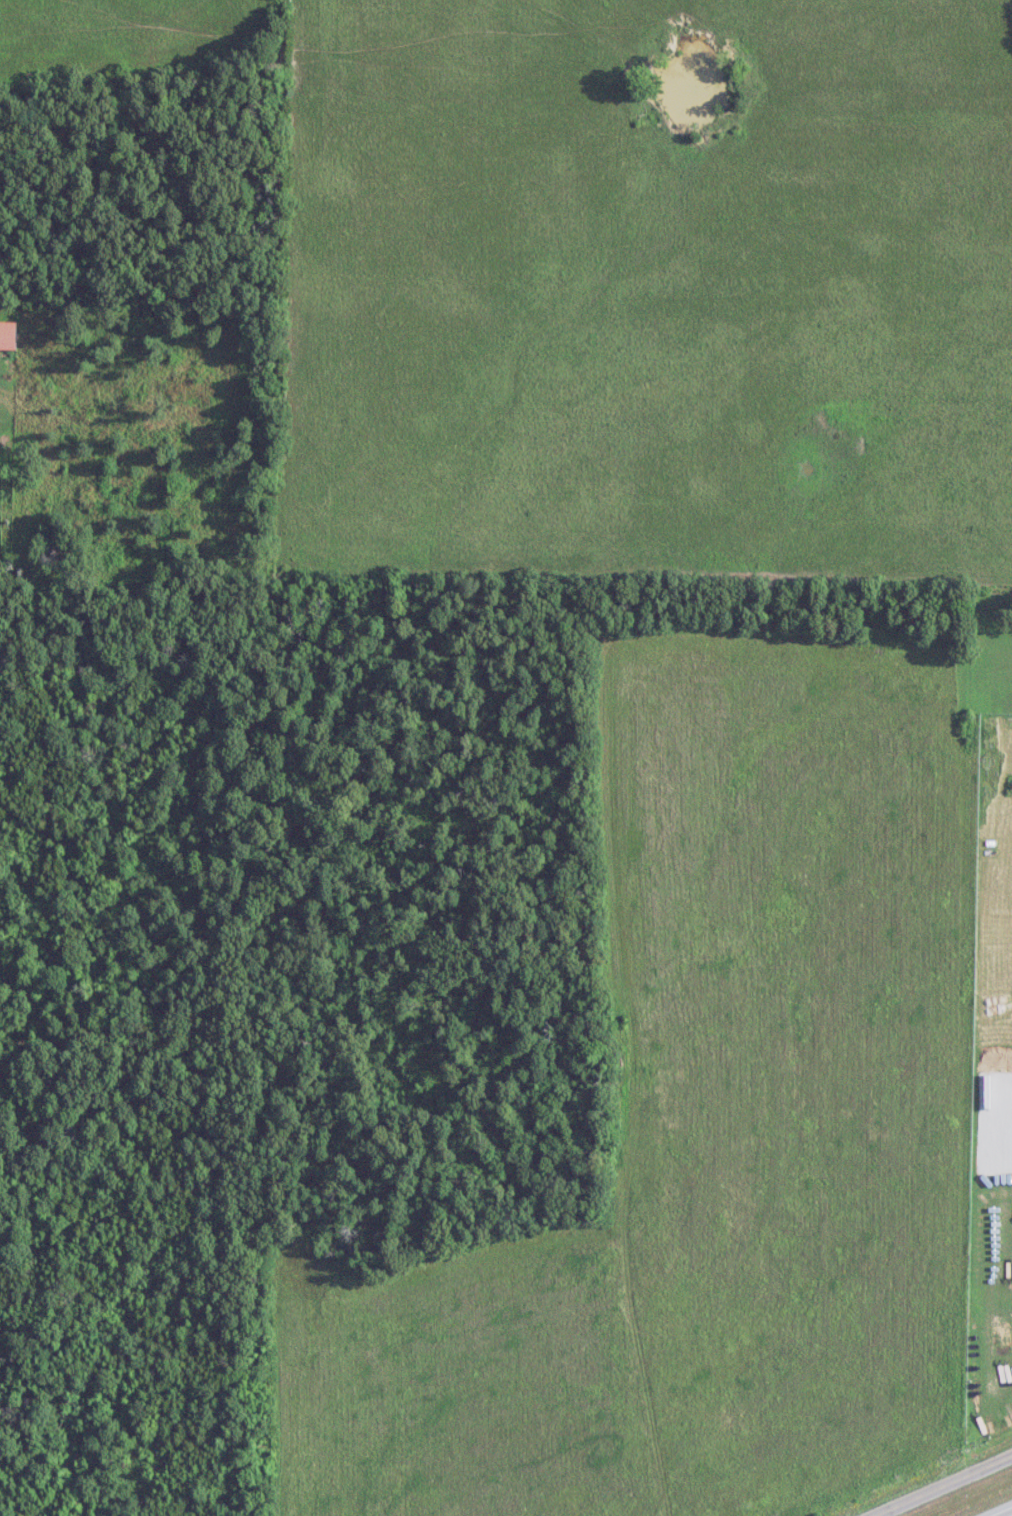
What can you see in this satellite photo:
building: (7, 335)
crop: (701, 1134)
road: (936, 1483)

